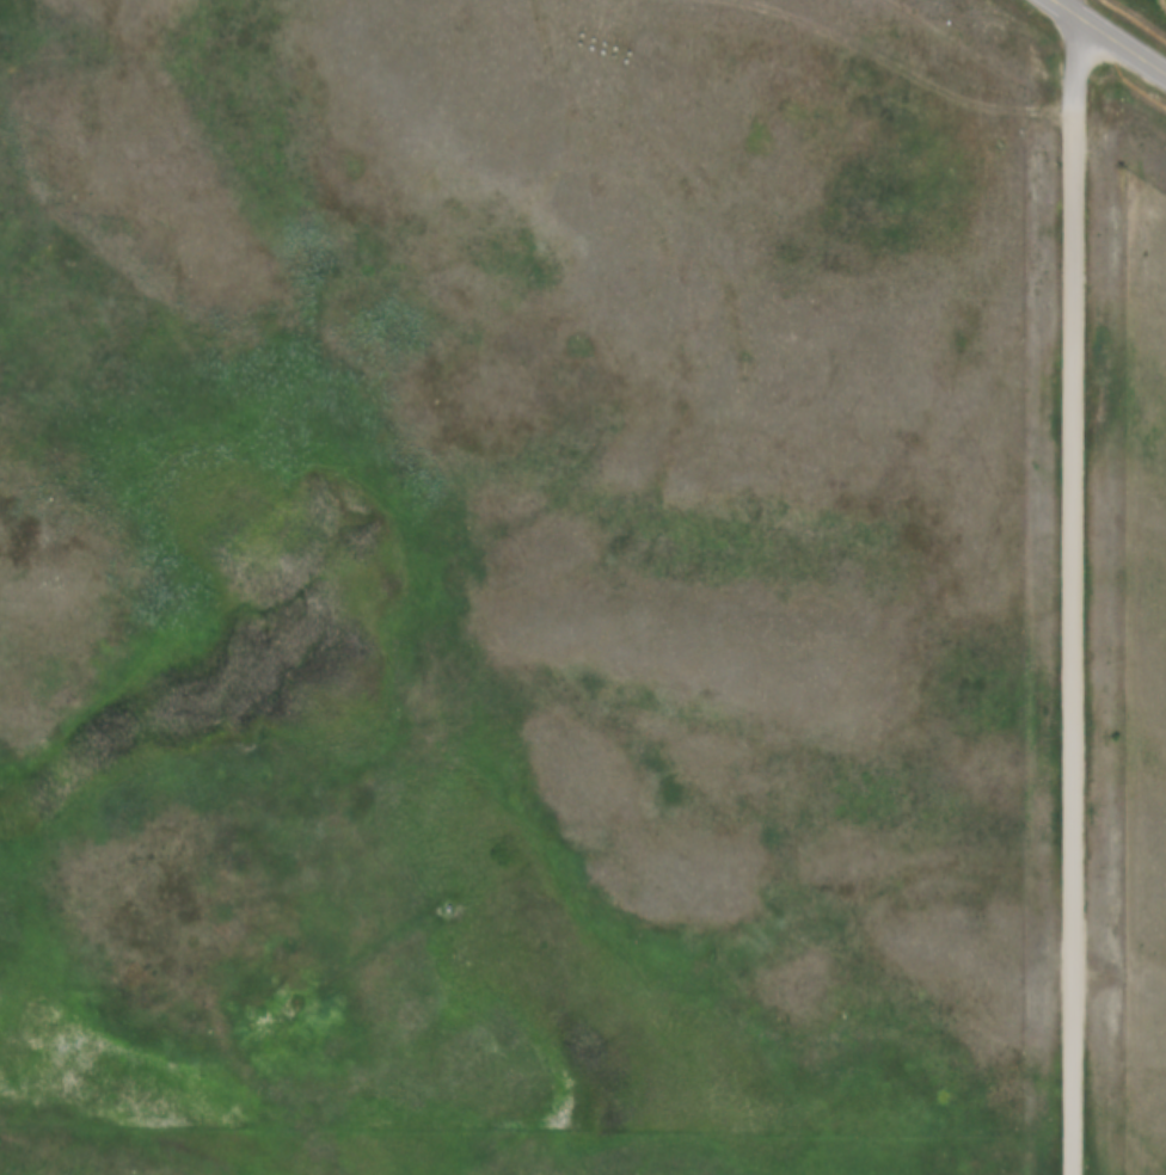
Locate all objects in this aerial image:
road: (1072, 2)
road: (1116, 33)
road: (1075, 589)

